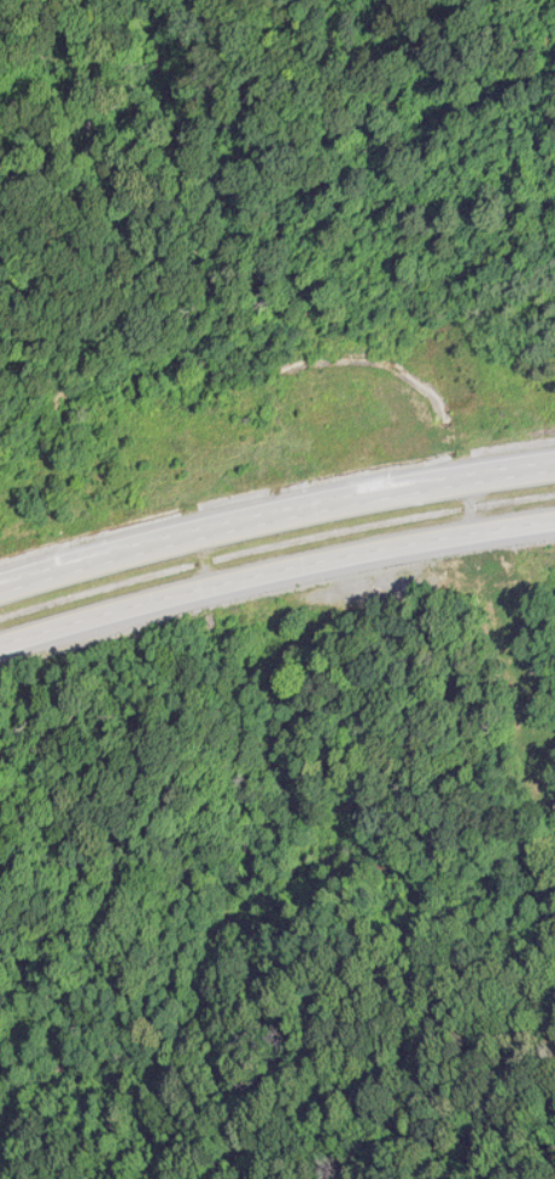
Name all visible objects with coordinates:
road: (275, 521)
road: (274, 571)

